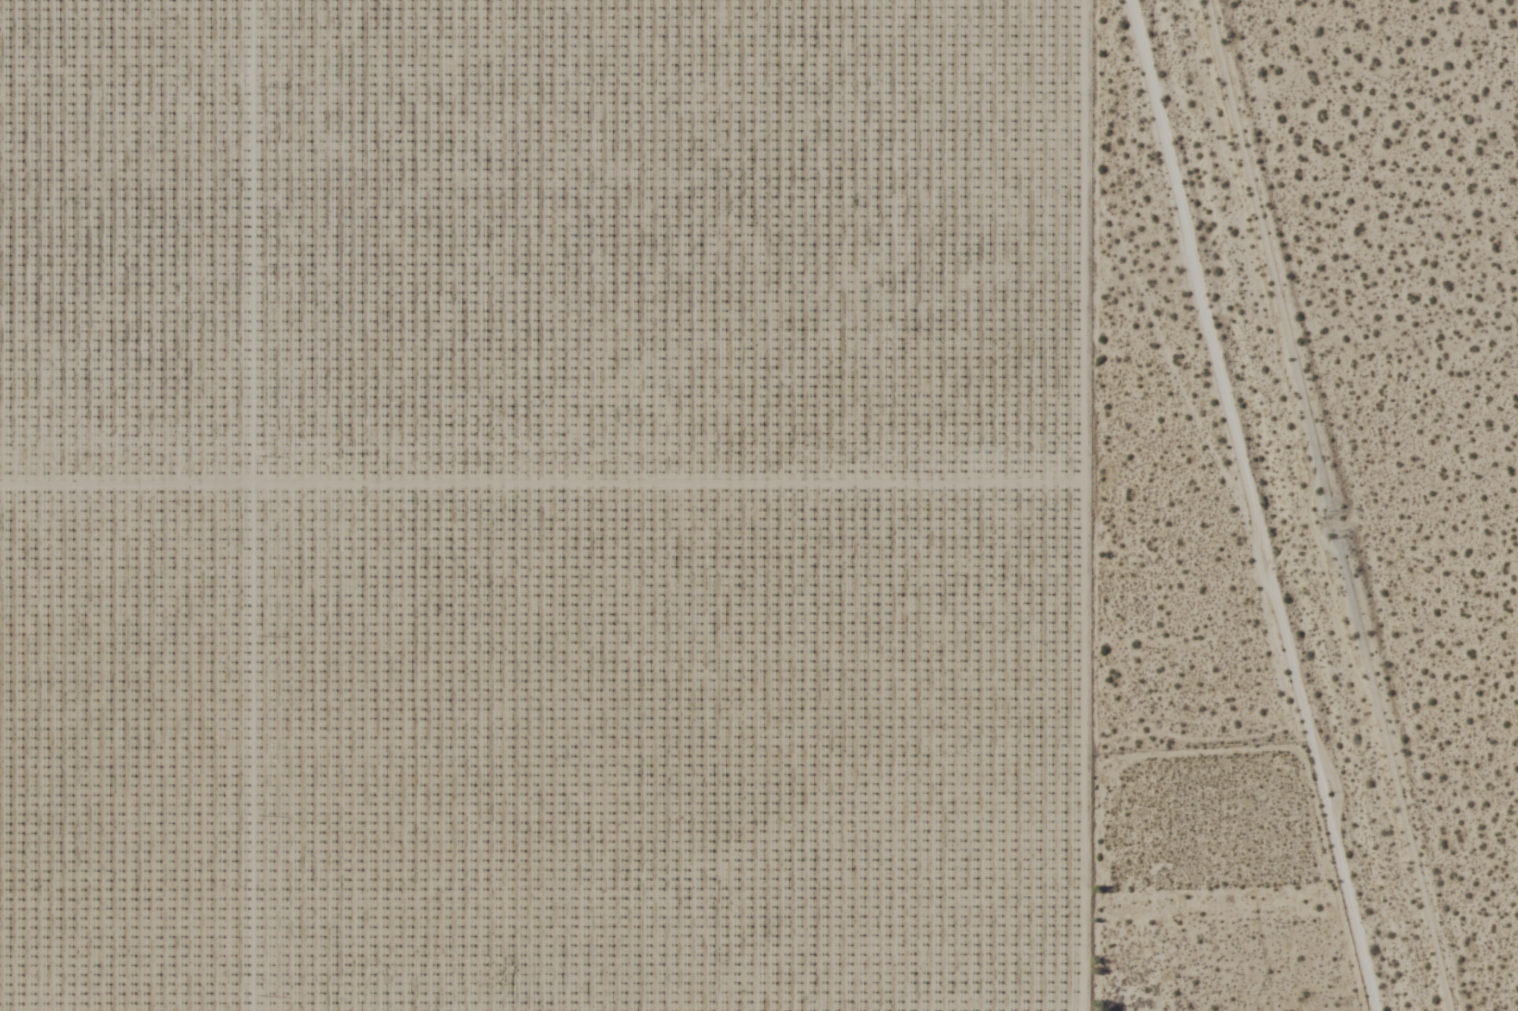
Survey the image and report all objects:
road: (1252, 505)

